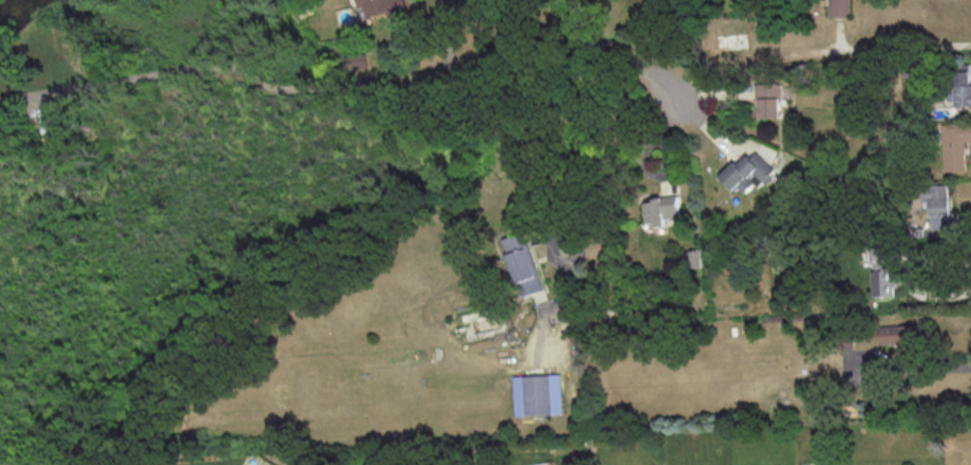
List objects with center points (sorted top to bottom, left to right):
road: (314, 0)
building: (382, 7)
building: (839, 8)
river: (14, 10)
road: (904, 43)
building: (358, 61)
road: (630, 61)
building: (962, 84)
road: (304, 90)
road: (46, 92)
building: (769, 99)
road: (579, 141)
building: (954, 145)
building: (937, 204)
building: (660, 210)
building: (690, 256)
building: (523, 263)
building: (881, 274)
road: (910, 274)
park: (62, 282)
building: (899, 334)
road: (920, 370)
building: (537, 394)

